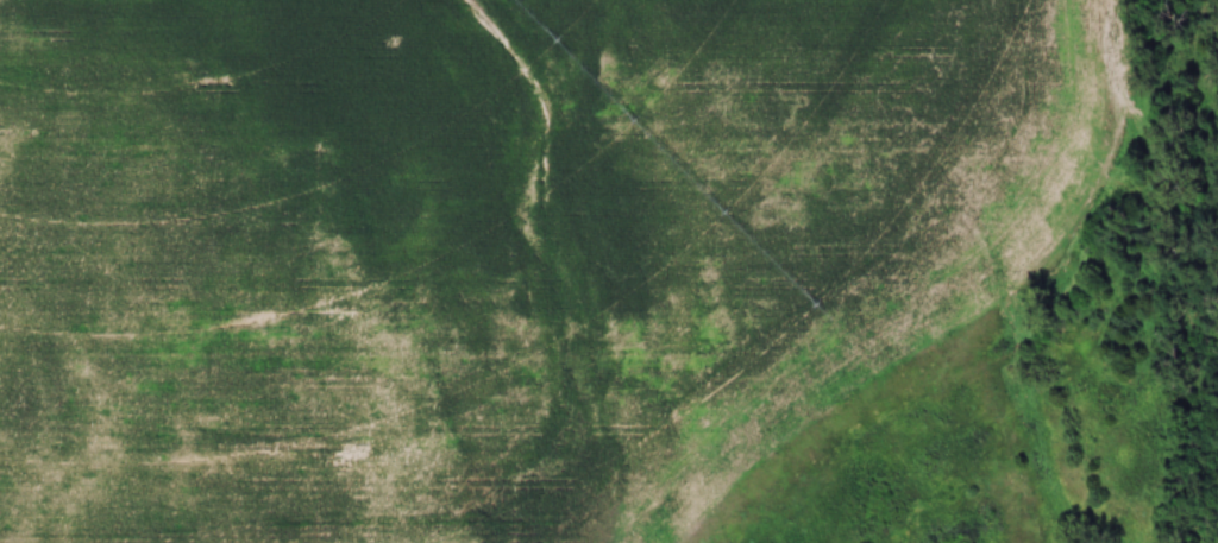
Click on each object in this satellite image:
road: (1189, 271)

